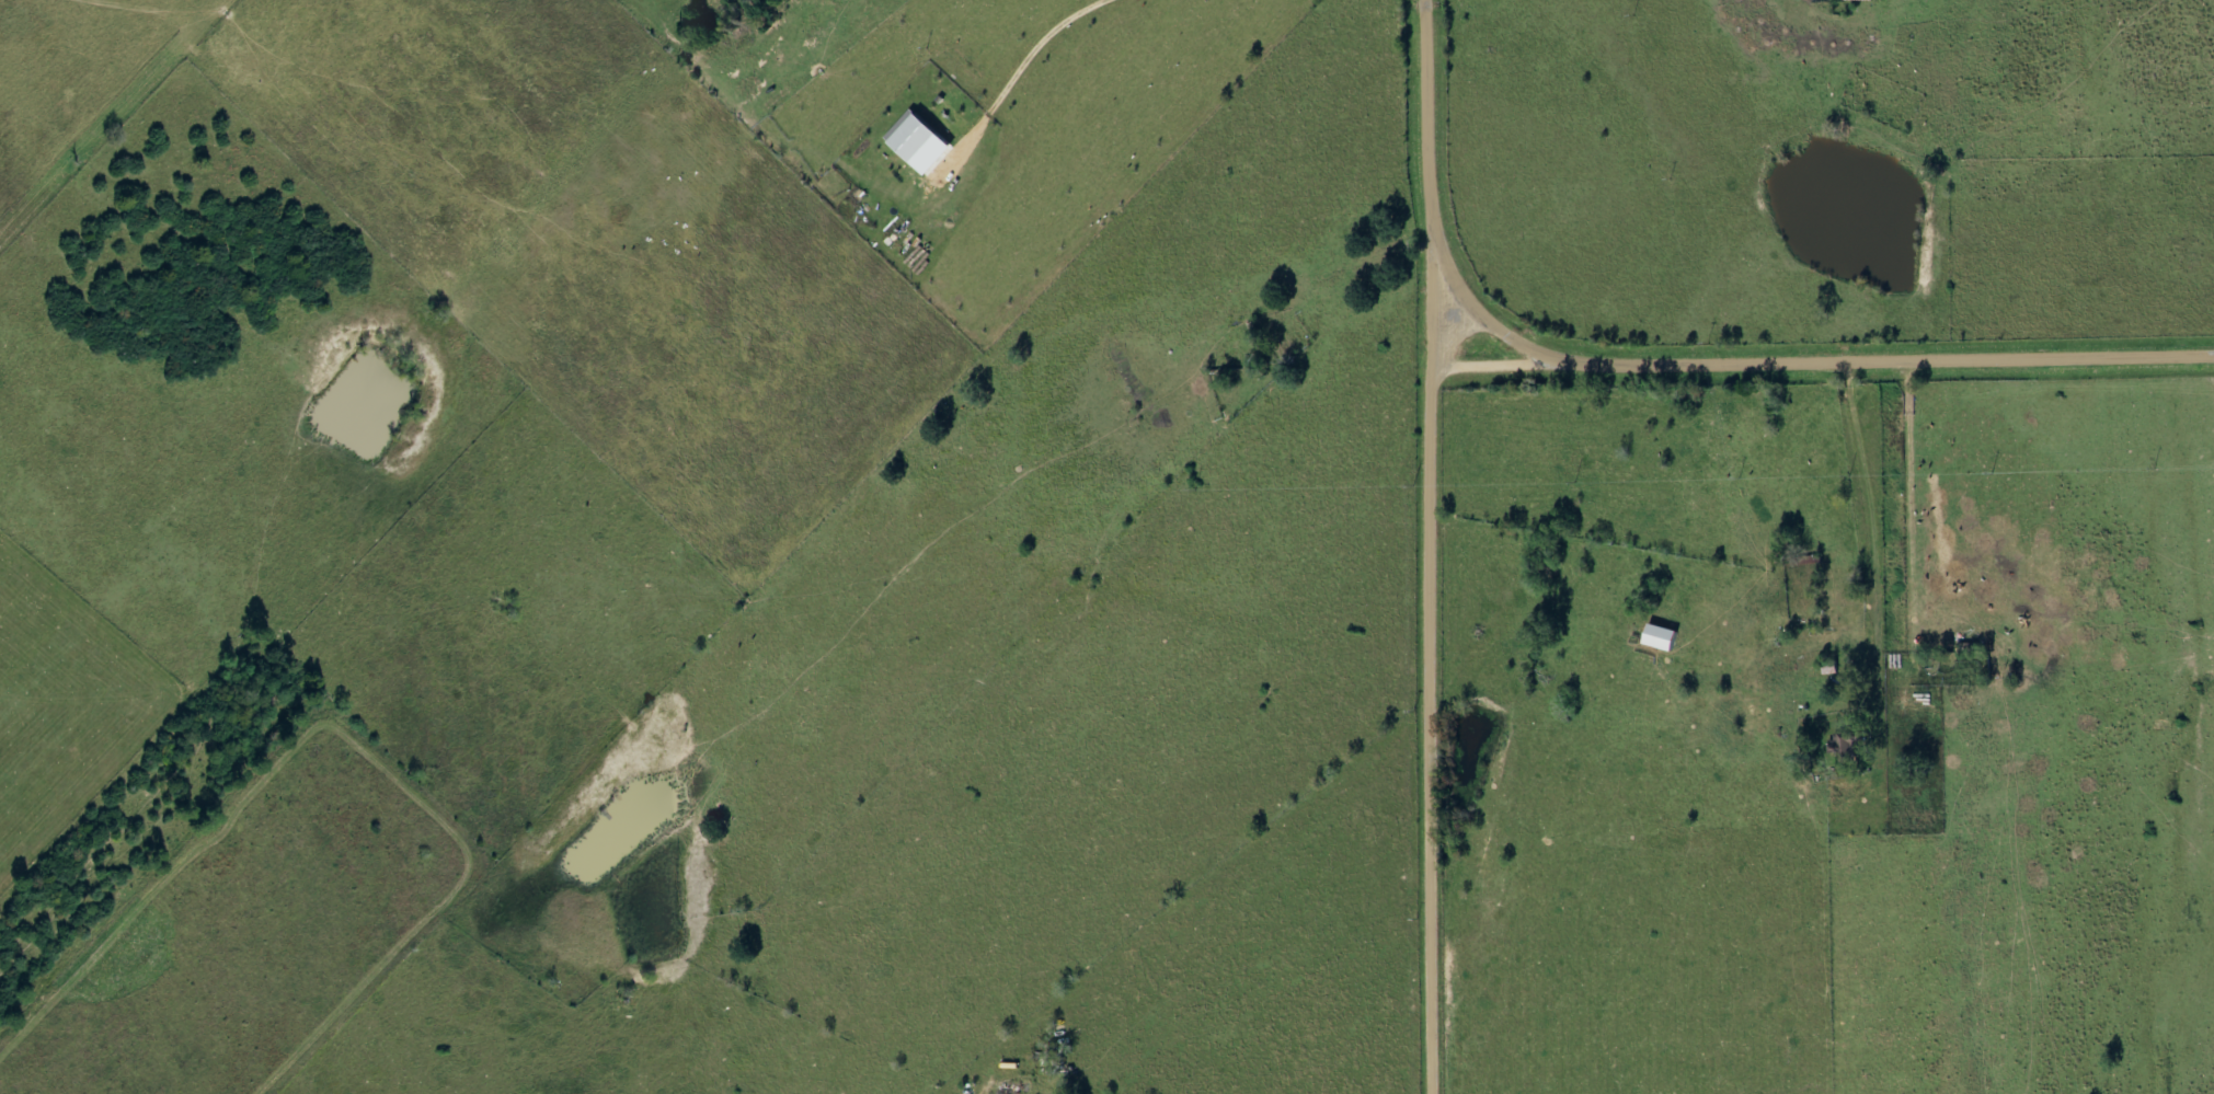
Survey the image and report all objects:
building: (1858, 0)
road: (1822, 356)
road: (1429, 546)
road: (1878, 551)
building: (1843, 745)

